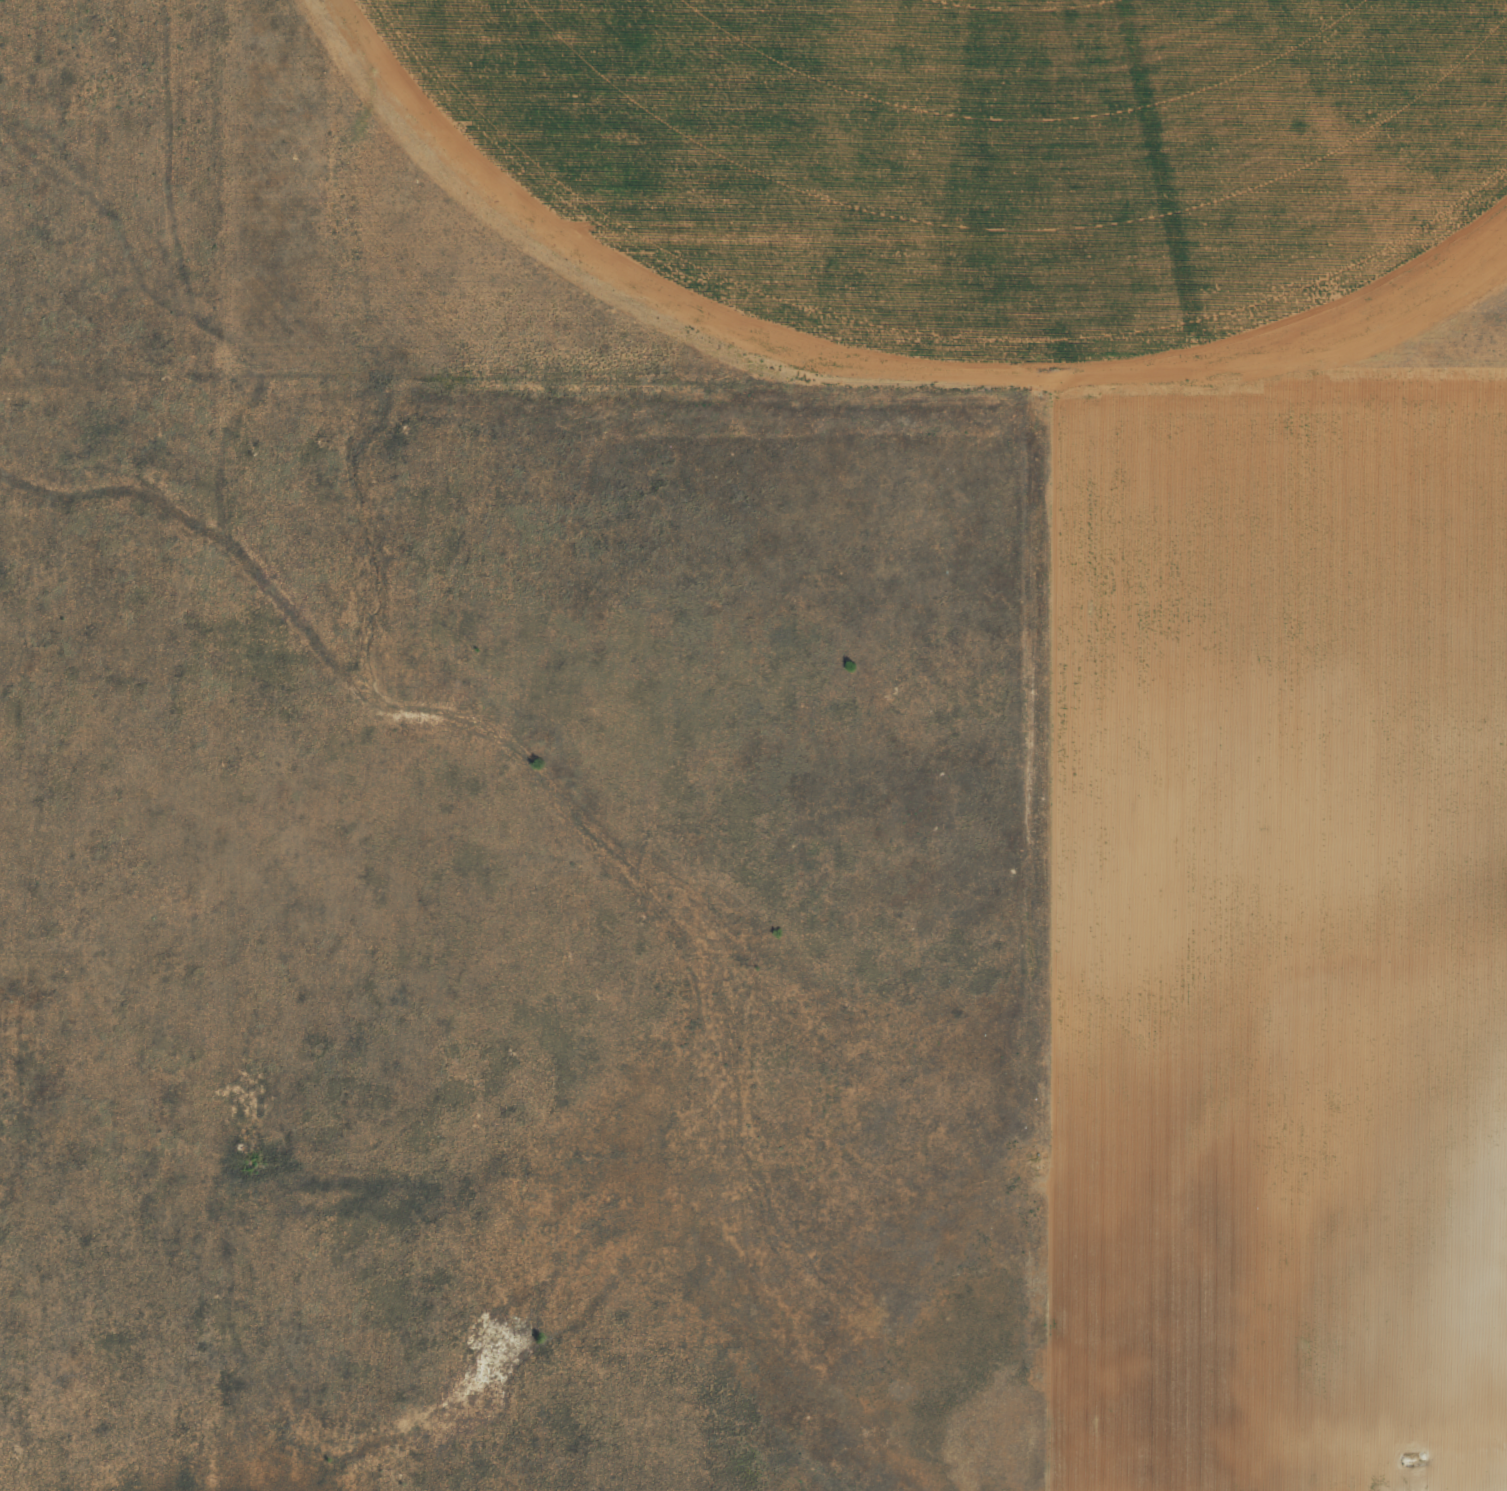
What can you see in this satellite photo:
road: (1212, 972)

